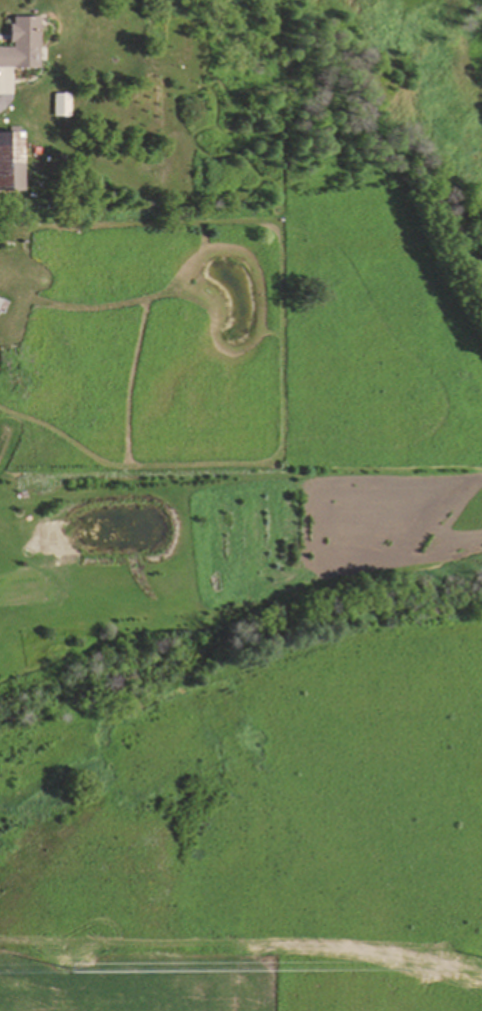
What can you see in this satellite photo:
building: (19, 43)
road: (2, 93)
building: (62, 104)
building: (8, 162)

